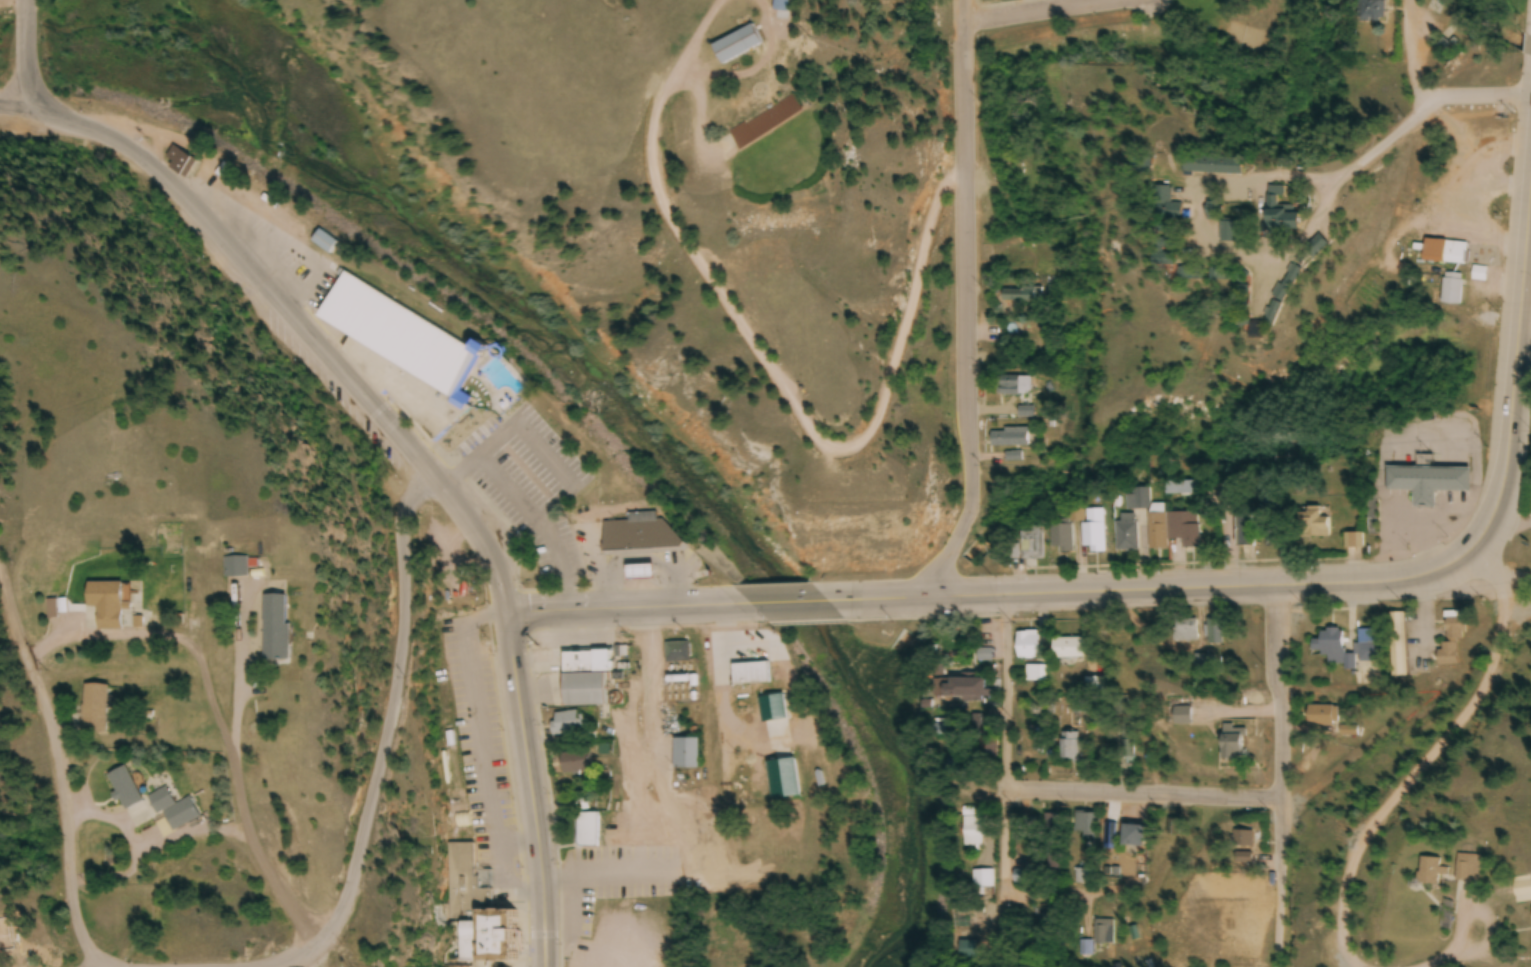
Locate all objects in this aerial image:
road: (1034, 9)
building: (1370, 11)
river: (26, 26)
river: (5, 29)
building: (737, 46)
road: (28, 51)
road: (1411, 52)
road: (1481, 97)
road: (13, 101)
building: (765, 124)
road: (1362, 160)
building: (179, 164)
building: (1208, 168)
building: (1160, 207)
road: (1529, 213)
building: (1276, 214)
building: (1224, 235)
building: (324, 244)
building: (1455, 254)
road: (307, 259)
building: (1187, 276)
building: (1451, 290)
building: (1022, 296)
building: (1279, 296)
road: (960, 302)
road: (1524, 325)
road: (299, 329)
building: (404, 357)
road: (1515, 359)
road: (374, 382)
road: (776, 383)
building: (1019, 387)
river: (606, 397)
parking lot: (340, 399)
road: (377, 410)
building: (1009, 439)
road: (546, 451)
road: (456, 470)
building: (1427, 484)
parking lot: (531, 485)
road: (525, 506)
building: (1313, 526)
road: (508, 529)
building: (1174, 531)
building: (1245, 531)
building: (1095, 533)
building: (1127, 534)
building: (638, 536)
building: (1062, 541)
building: (1355, 543)
road: (1270, 545)
building: (1026, 546)
park: (444, 565)
building: (234, 569)
building: (638, 575)
road: (1175, 589)
road: (786, 599)
road: (523, 602)
building: (105, 606)
road: (609, 608)
building: (55, 609)
building: (1455, 626)
building: (273, 630)
building: (1184, 631)
building: (1215, 632)
parking lot: (574, 639)
building: (1027, 646)
building: (1369, 646)
building: (1398, 646)
building: (1068, 648)
building: (1333, 649)
building: (676, 653)
building: (1447, 655)
building: (984, 656)
building: (592, 663)
building: (744, 674)
parking lot: (550, 677)
building: (964, 688)
building: (591, 693)
building: (772, 708)
building: (94, 710)
building: (1181, 715)
building: (1322, 716)
building: (572, 723)
road: (391, 737)
building: (1231, 742)
road: (1004, 743)
building: (1126, 744)
parking lot: (483, 746)
building: (1069, 747)
building: (685, 754)
building: (580, 763)
road: (58, 767)
road: (1274, 778)
building: (123, 789)
road: (530, 790)
road: (1127, 797)
building: (172, 810)
building: (1128, 824)
building: (1087, 826)
building: (1173, 828)
building: (972, 829)
building: (594, 831)
building: (1243, 839)
building: (1052, 843)
building: (1467, 869)
building: (1430, 872)
building: (1086, 878)
building: (1019, 879)
building: (983, 880)
parking lot: (614, 882)
building: (1522, 892)
road: (1047, 895)
road: (543, 932)
road: (525, 934)
building: (495, 942)

